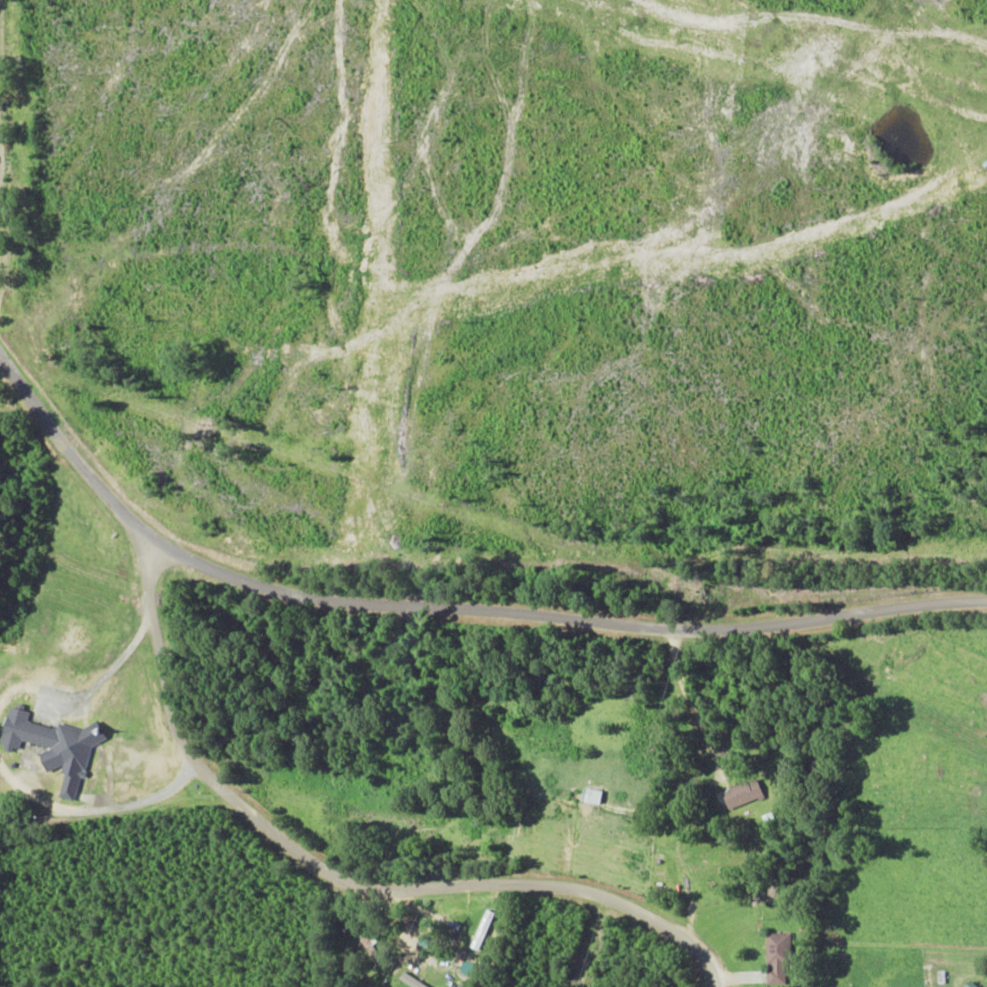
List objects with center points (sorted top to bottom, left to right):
road: (83, 523)
road: (568, 670)
building: (53, 745)
building: (742, 792)
road: (103, 869)
road: (329, 924)
building: (776, 958)
building: (411, 982)
building: (970, 984)

